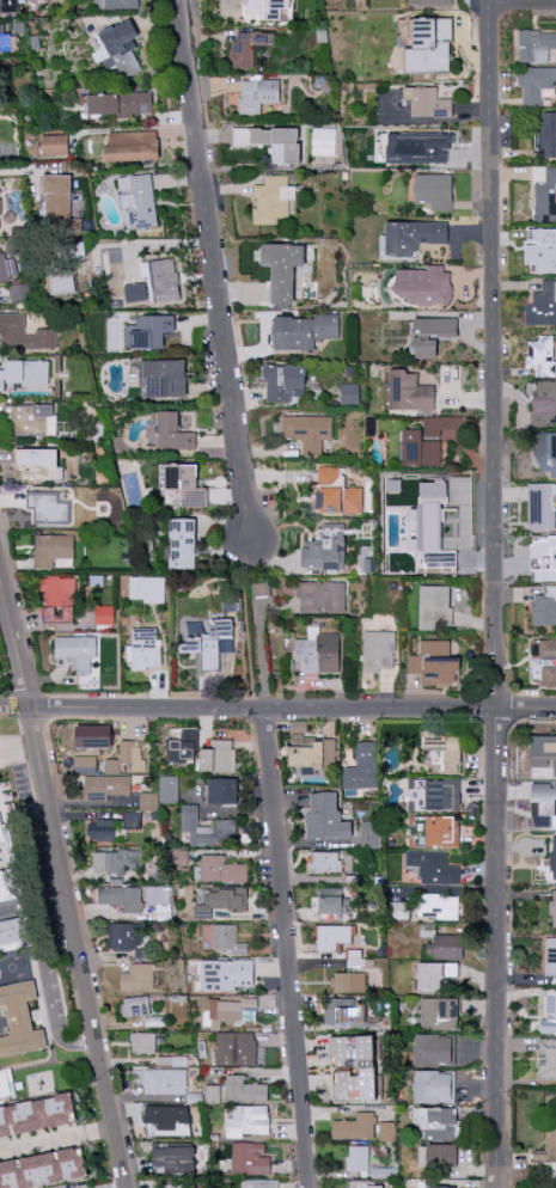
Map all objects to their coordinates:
road: (523, 1)
building: (430, 2)
building: (264, 8)
building: (7, 41)
building: (536, 45)
building: (117, 48)
building: (245, 49)
building: (427, 49)
building: (537, 85)
building: (257, 93)
building: (118, 103)
building: (427, 103)
building: (548, 134)
building: (323, 141)
building: (271, 142)
building: (54, 145)
building: (132, 146)
building: (417, 147)
building: (434, 190)
building: (544, 194)
building: (271, 198)
building: (138, 201)
building: (59, 204)
building: (6, 219)
building: (413, 237)
road: (145, 244)
building: (542, 250)
building: (7, 268)
building: (282, 269)
road: (216, 270)
building: (161, 278)
building: (61, 282)
building: (423, 284)
building: (20, 292)
building: (135, 292)
building: (542, 305)
building: (149, 331)
building: (305, 331)
building: (23, 333)
building: (430, 335)
building: (540, 356)
building: (24, 373)
building: (163, 378)
building: (285, 382)
building: (409, 392)
building: (349, 393)
building: (544, 402)
building: (31, 418)
building: (171, 431)
building: (307, 431)
building: (429, 440)
building: (544, 452)
building: (38, 463)
building: (182, 485)
building: (335, 492)
building: (542, 506)
building: (48, 508)
building: (182, 543)
building: (325, 550)
building: (53, 551)
building: (544, 556)
building: (366, 558)
building: (147, 588)
road: (495, 594)
building: (320, 596)
building: (57, 600)
building: (544, 606)
building: (434, 607)
building: (104, 614)
building: (145, 649)
building: (377, 650)
building: (544, 650)
building: (75, 651)
building: (318, 651)
road: (261, 655)
building: (435, 662)
building: (548, 674)
road: (277, 708)
building: (93, 736)
building: (182, 745)
building: (446, 752)
building: (543, 752)
building: (218, 757)
building: (126, 758)
building: (84, 764)
building: (362, 767)
building: (105, 786)
building: (169, 789)
building: (222, 790)
building: (435, 794)
building: (148, 801)
building: (543, 806)
building: (325, 817)
building: (132, 820)
building: (554, 822)
building: (206, 828)
building: (100, 831)
building: (441, 831)
building: (4, 832)
building: (371, 833)
building: (179, 857)
building: (554, 857)
building: (116, 861)
building: (324, 862)
building: (432, 866)
building: (221, 869)
road: (66, 883)
building: (10, 887)
building: (324, 892)
building: (158, 895)
building: (122, 896)
building: (220, 902)
building: (329, 906)
building: (436, 906)
building: (552, 907)
building: (398, 910)
building: (332, 936)
building: (228, 939)
building: (445, 945)
road: (288, 947)
building: (550, 956)
building: (355, 957)
building: (226, 974)
building: (435, 974)
building: (138, 976)
building: (349, 981)
road: (49, 998)
building: (140, 1010)
building: (344, 1010)
building: (227, 1011)
building: (439, 1012)
building: (549, 1012)
building: (20, 1019)
building: (142, 1042)
building: (236, 1048)
building: (434, 1051)
building: (546, 1058)
building: (367, 1068)
building: (164, 1082)
building: (6, 1083)
building: (434, 1086)
building: (244, 1089)
building: (212, 1094)
building: (36, 1115)
building: (167, 1121)
building: (246, 1121)
building: (436, 1123)
building: (354, 1126)
building: (386, 1131)
road: (56, 1137)
building: (548, 1146)
building: (438, 1155)
building: (358, 1158)
building: (173, 1159)
building: (250, 1159)
building: (43, 1169)
building: (257, 1183)
building: (360, 1184)
building: (173, 1186)
building: (441, 1187)

